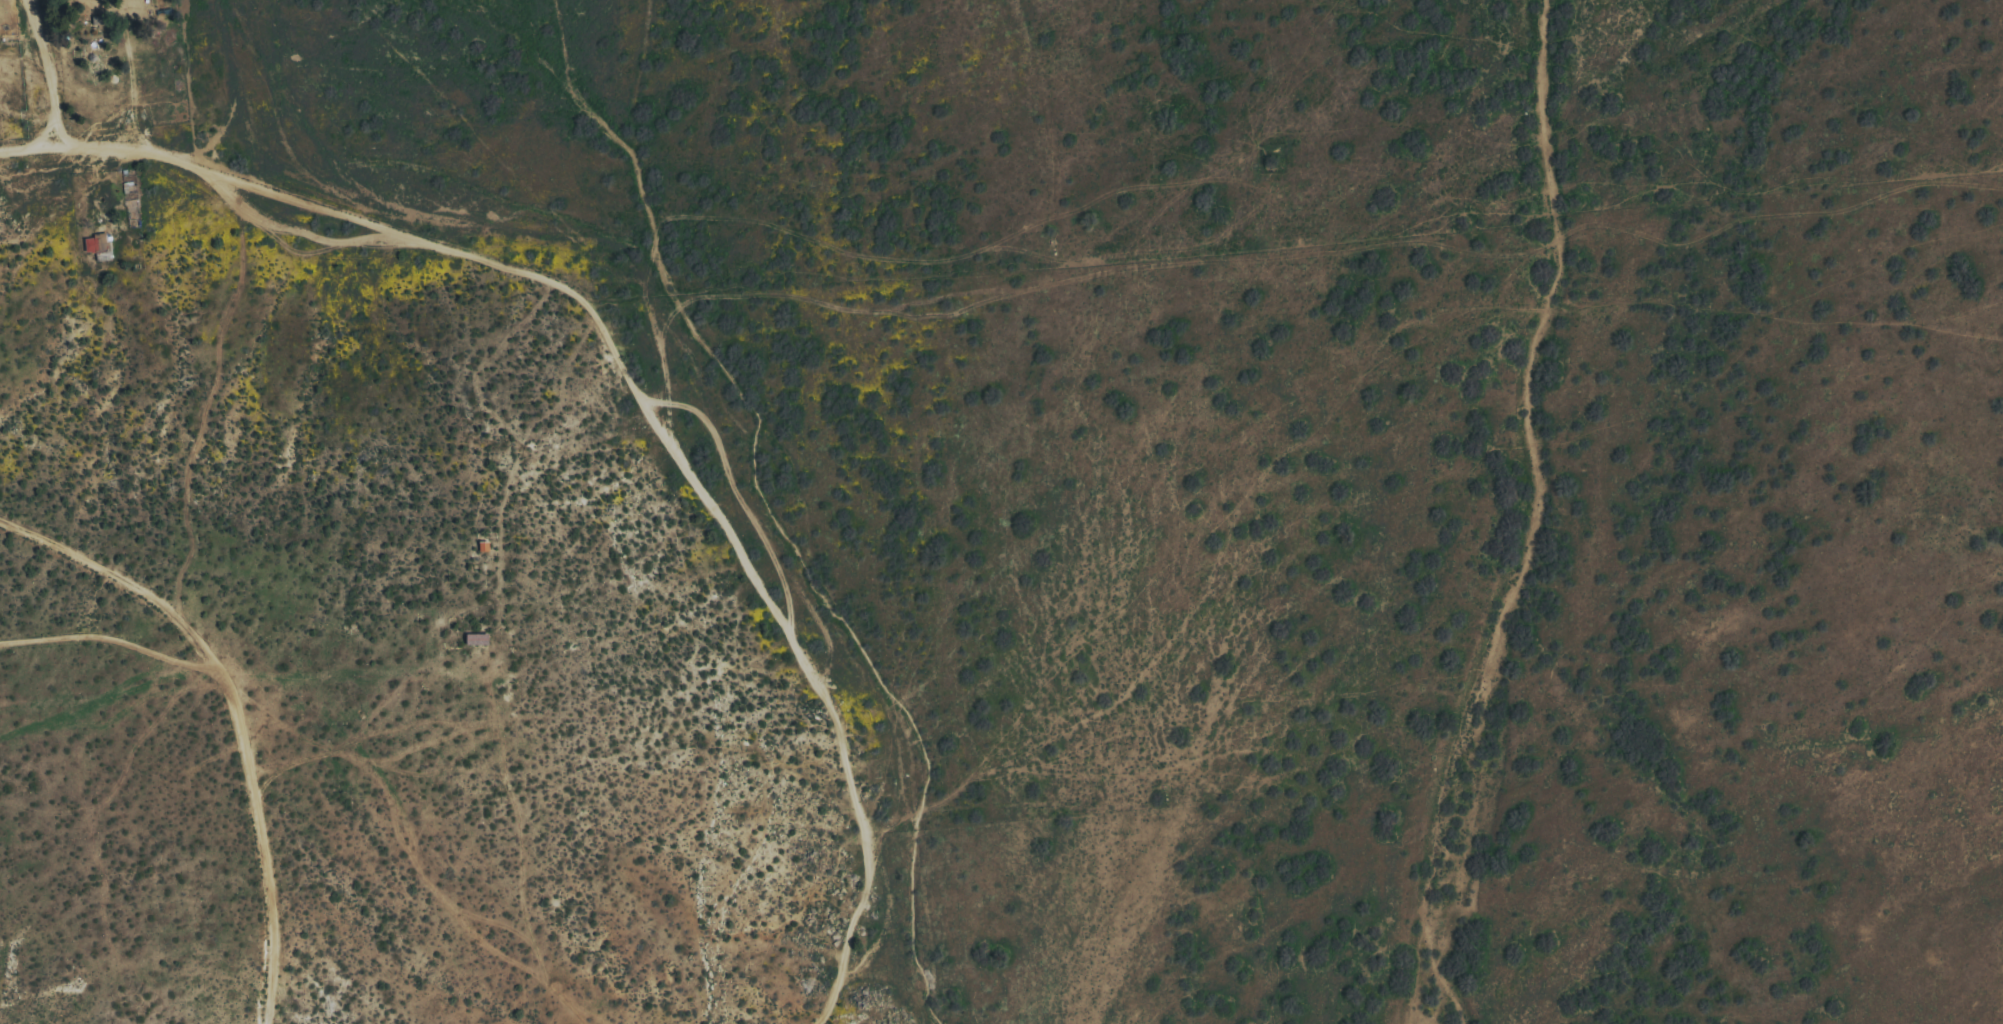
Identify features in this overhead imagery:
road: (46, 72)
road: (37, 130)
road: (26, 149)
building: (98, 244)
road: (645, 409)
road: (116, 586)
building: (479, 639)
road: (106, 646)
road: (258, 847)

